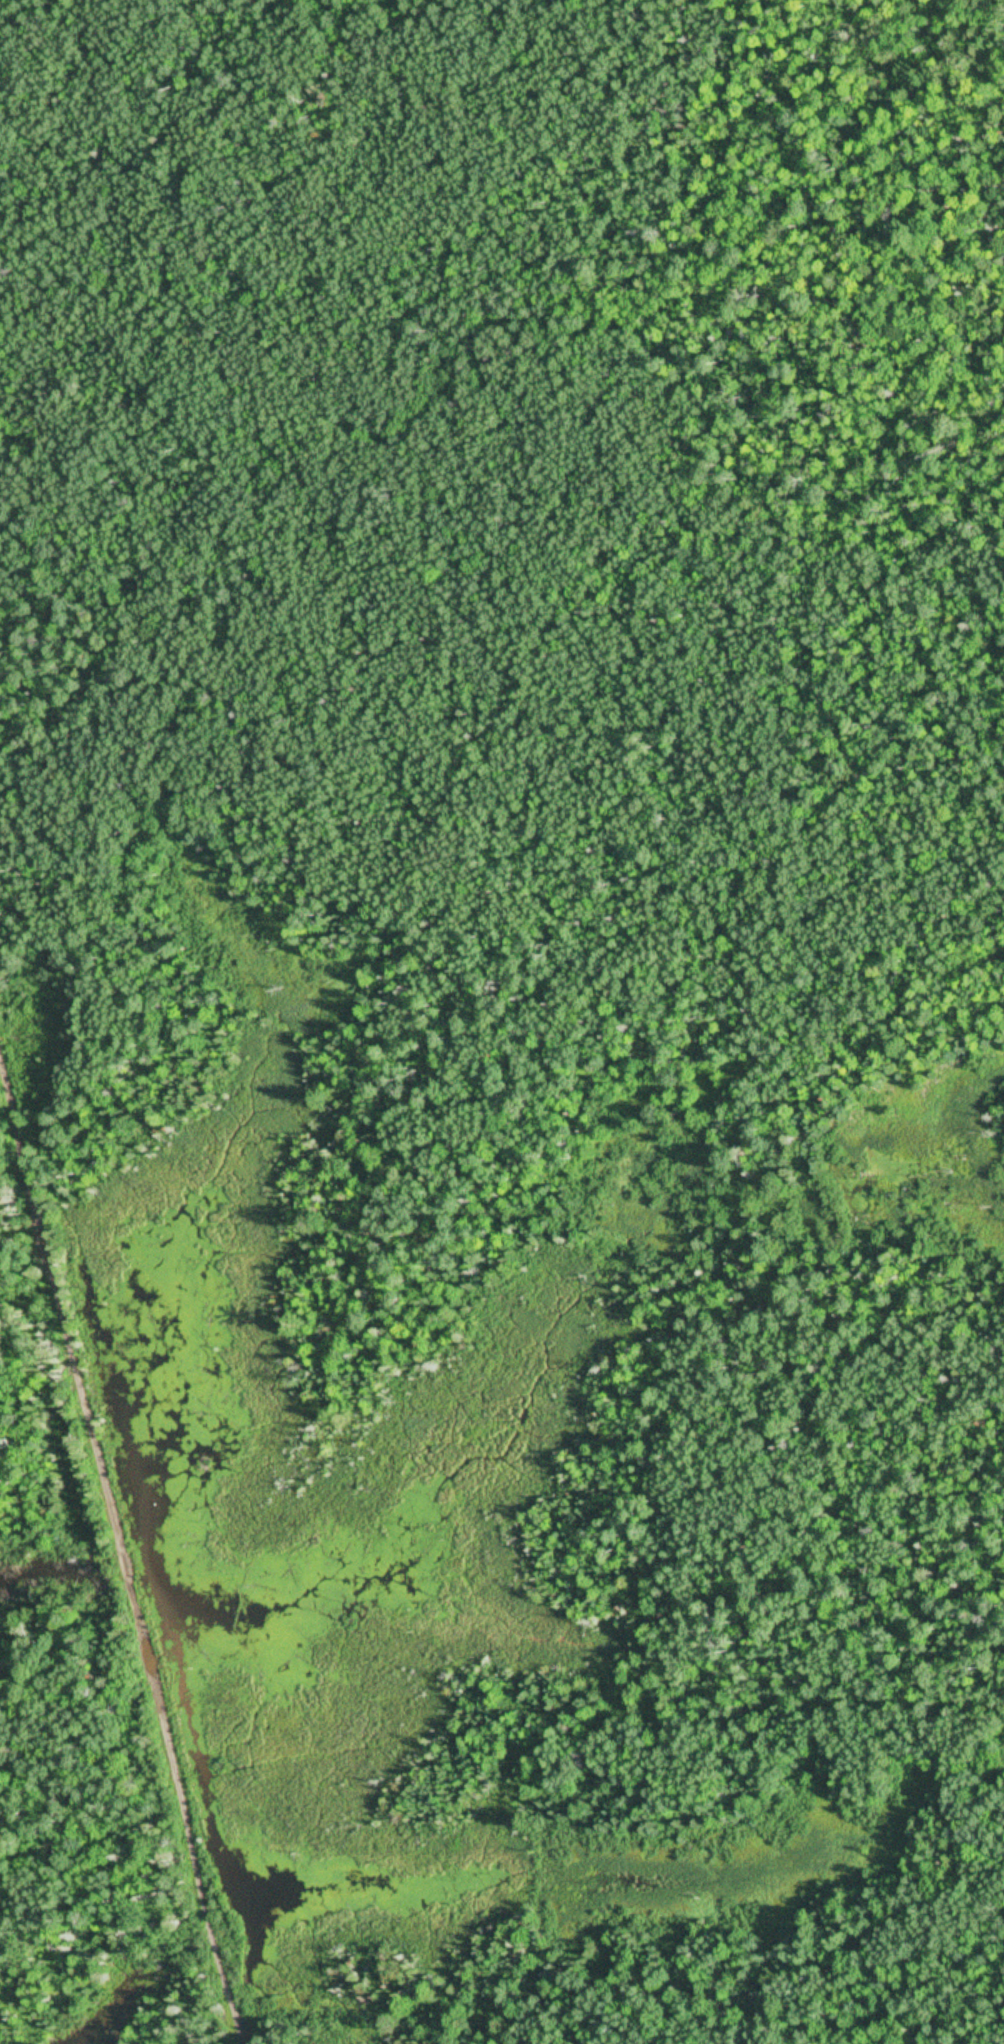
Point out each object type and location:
road: (119, 1539)

